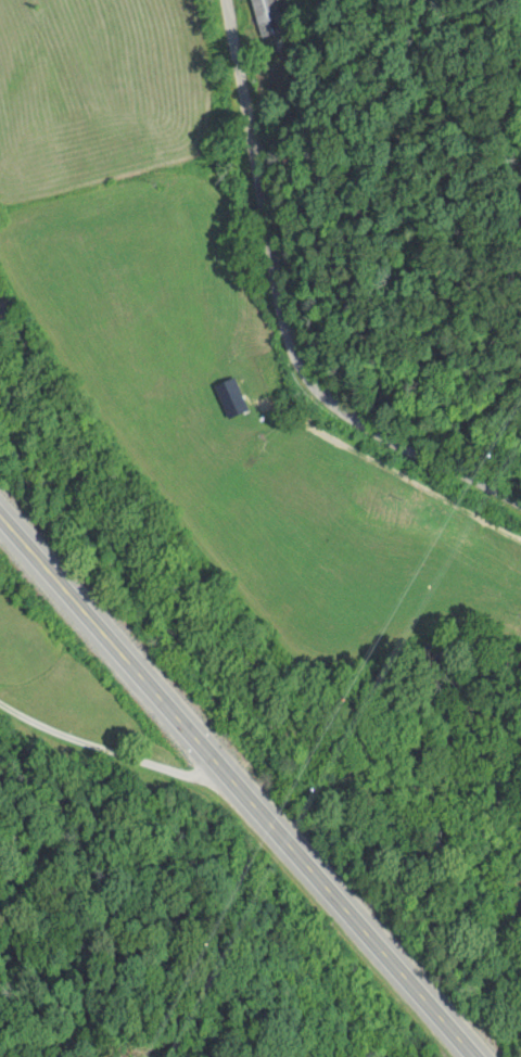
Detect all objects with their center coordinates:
road: (301, 302)
road: (237, 785)

